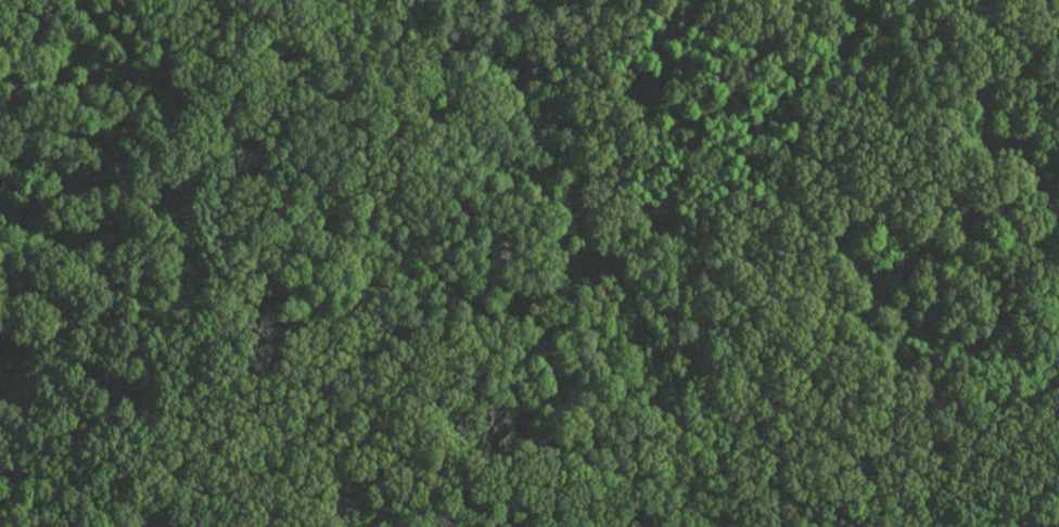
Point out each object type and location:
road: (788, 197)

